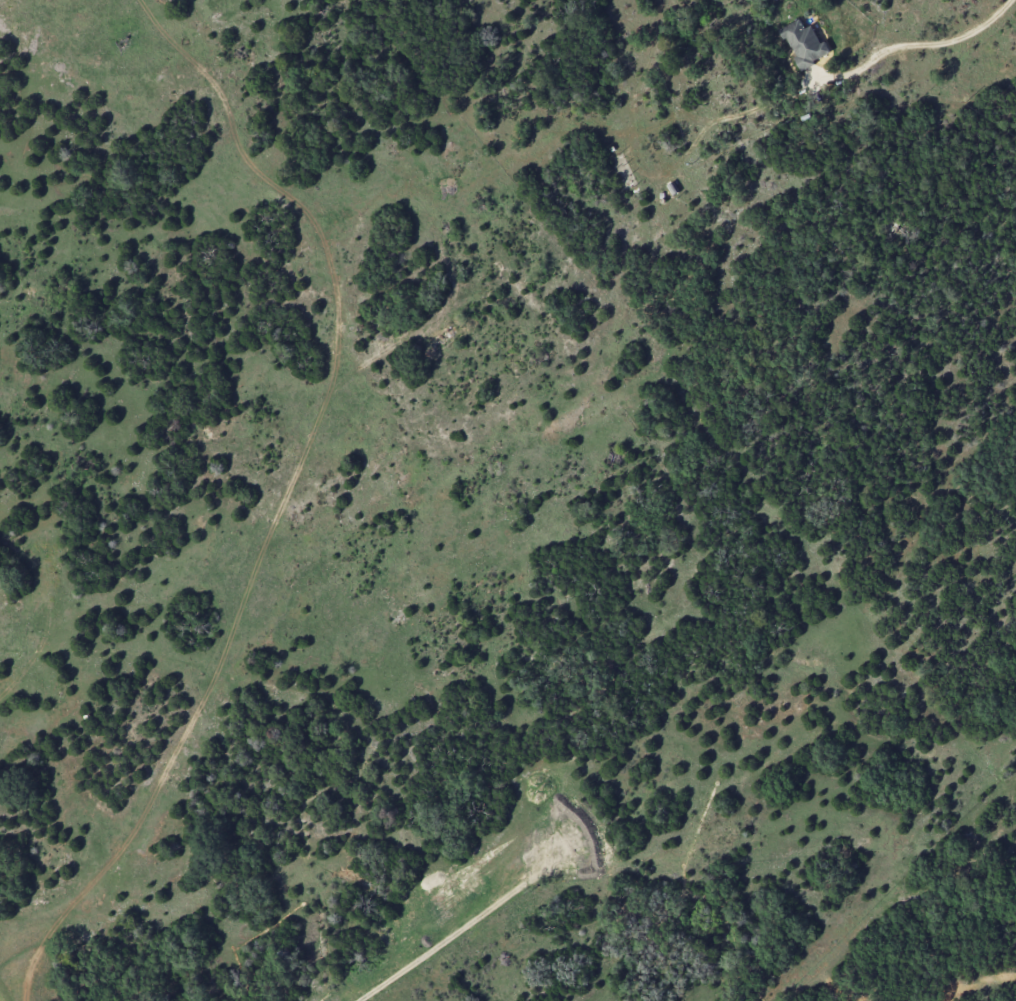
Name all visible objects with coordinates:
building: (805, 43)
road: (927, 44)

